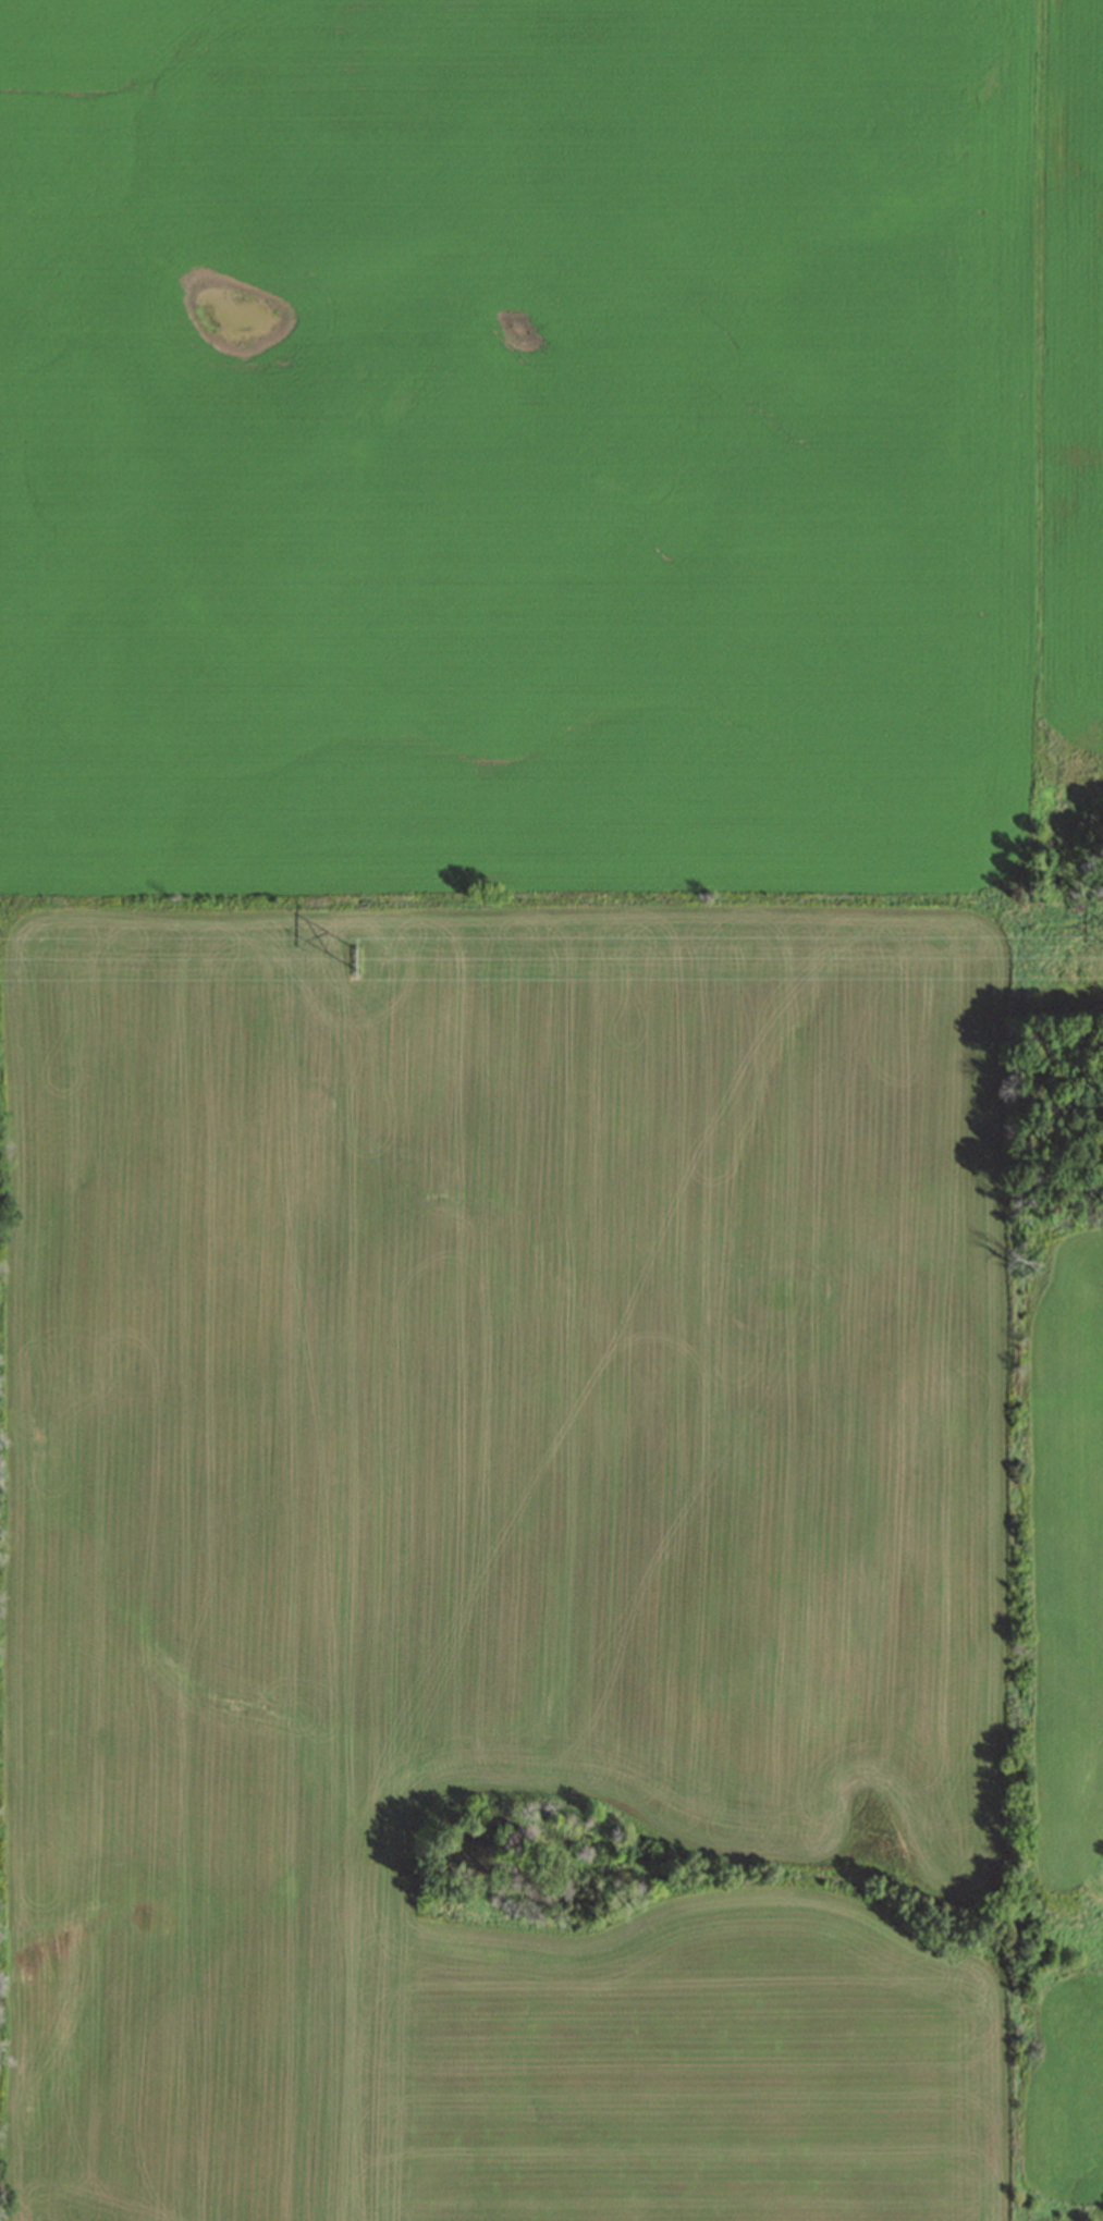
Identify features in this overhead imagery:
power tower: (353, 955)

